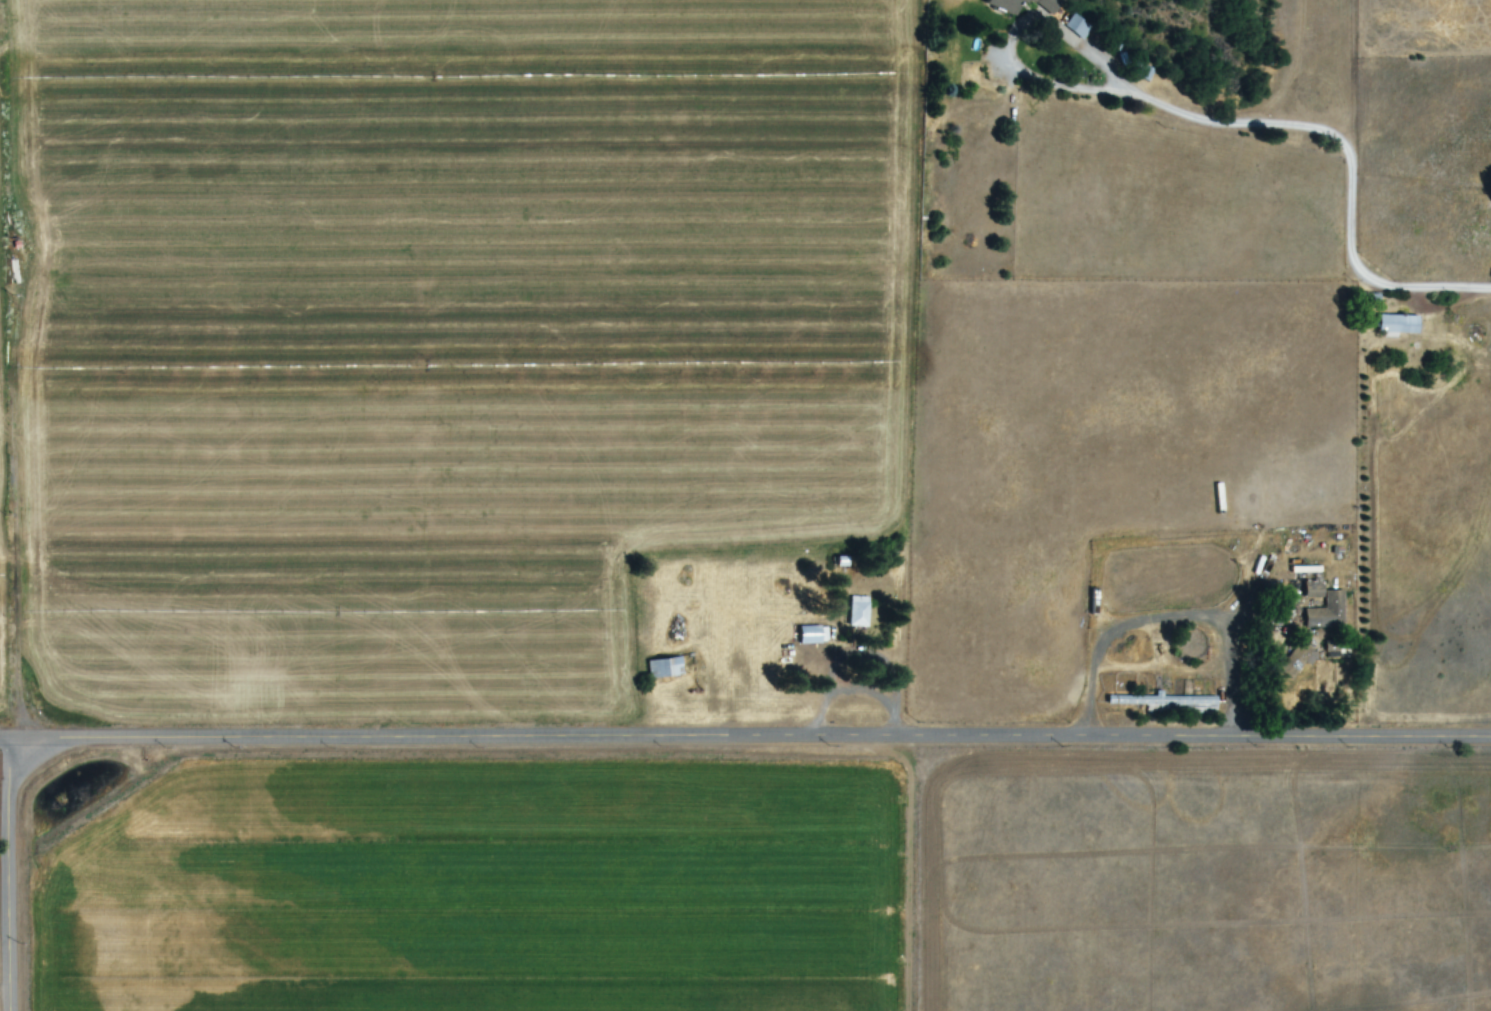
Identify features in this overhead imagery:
building: (1000, 5)
building: (1047, 5)
building: (1078, 27)
building: (1148, 74)
building: (1394, 325)
building: (1310, 590)
building: (857, 612)
building: (1325, 612)
building: (809, 636)
building: (1295, 660)
building: (662, 668)
building: (1168, 703)
road: (752, 743)
road: (7, 746)
road: (12, 878)

